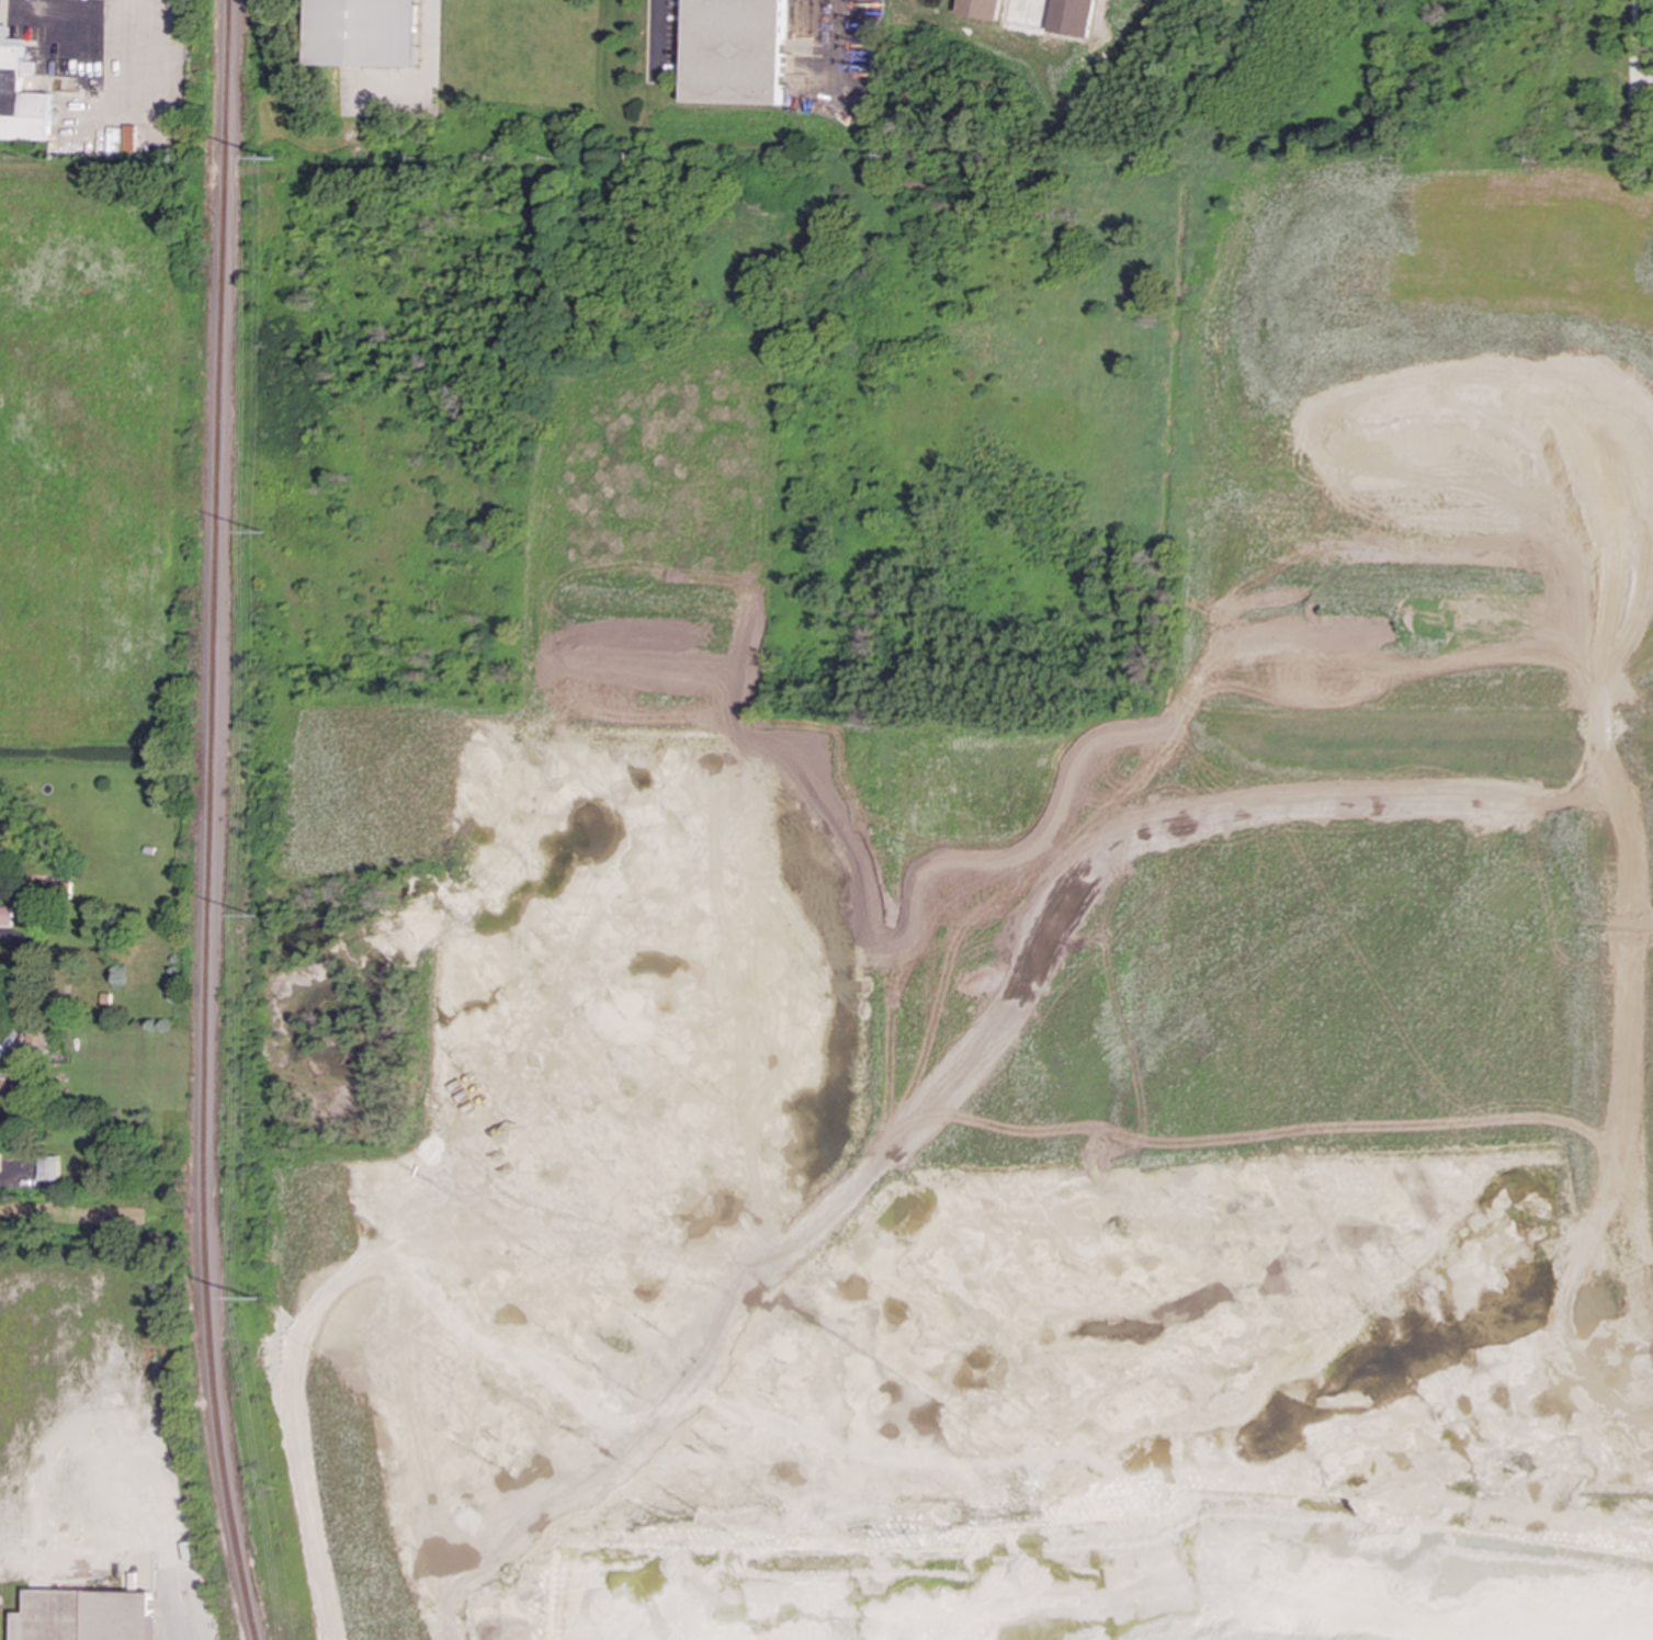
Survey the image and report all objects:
road: (35, 4)
building: (978, 9)
road: (103, 11)
building: (362, 32)
road: (654, 35)
road: (834, 35)
parking lot: (661, 37)
building: (734, 52)
road: (1631, 94)
building: (20, 97)
power tower: (273, 161)
power tower: (267, 535)
railway: (211, 822)
building: (5, 842)
quarry: (959, 884)
road: (13, 892)
building: (5, 916)
power tower: (254, 919)
building: (36, 1039)
building: (3, 1090)
building: (0, 1147)
building: (49, 1167)
power tower: (254, 1303)
building: (87, 1615)
railway: (190, 1616)

